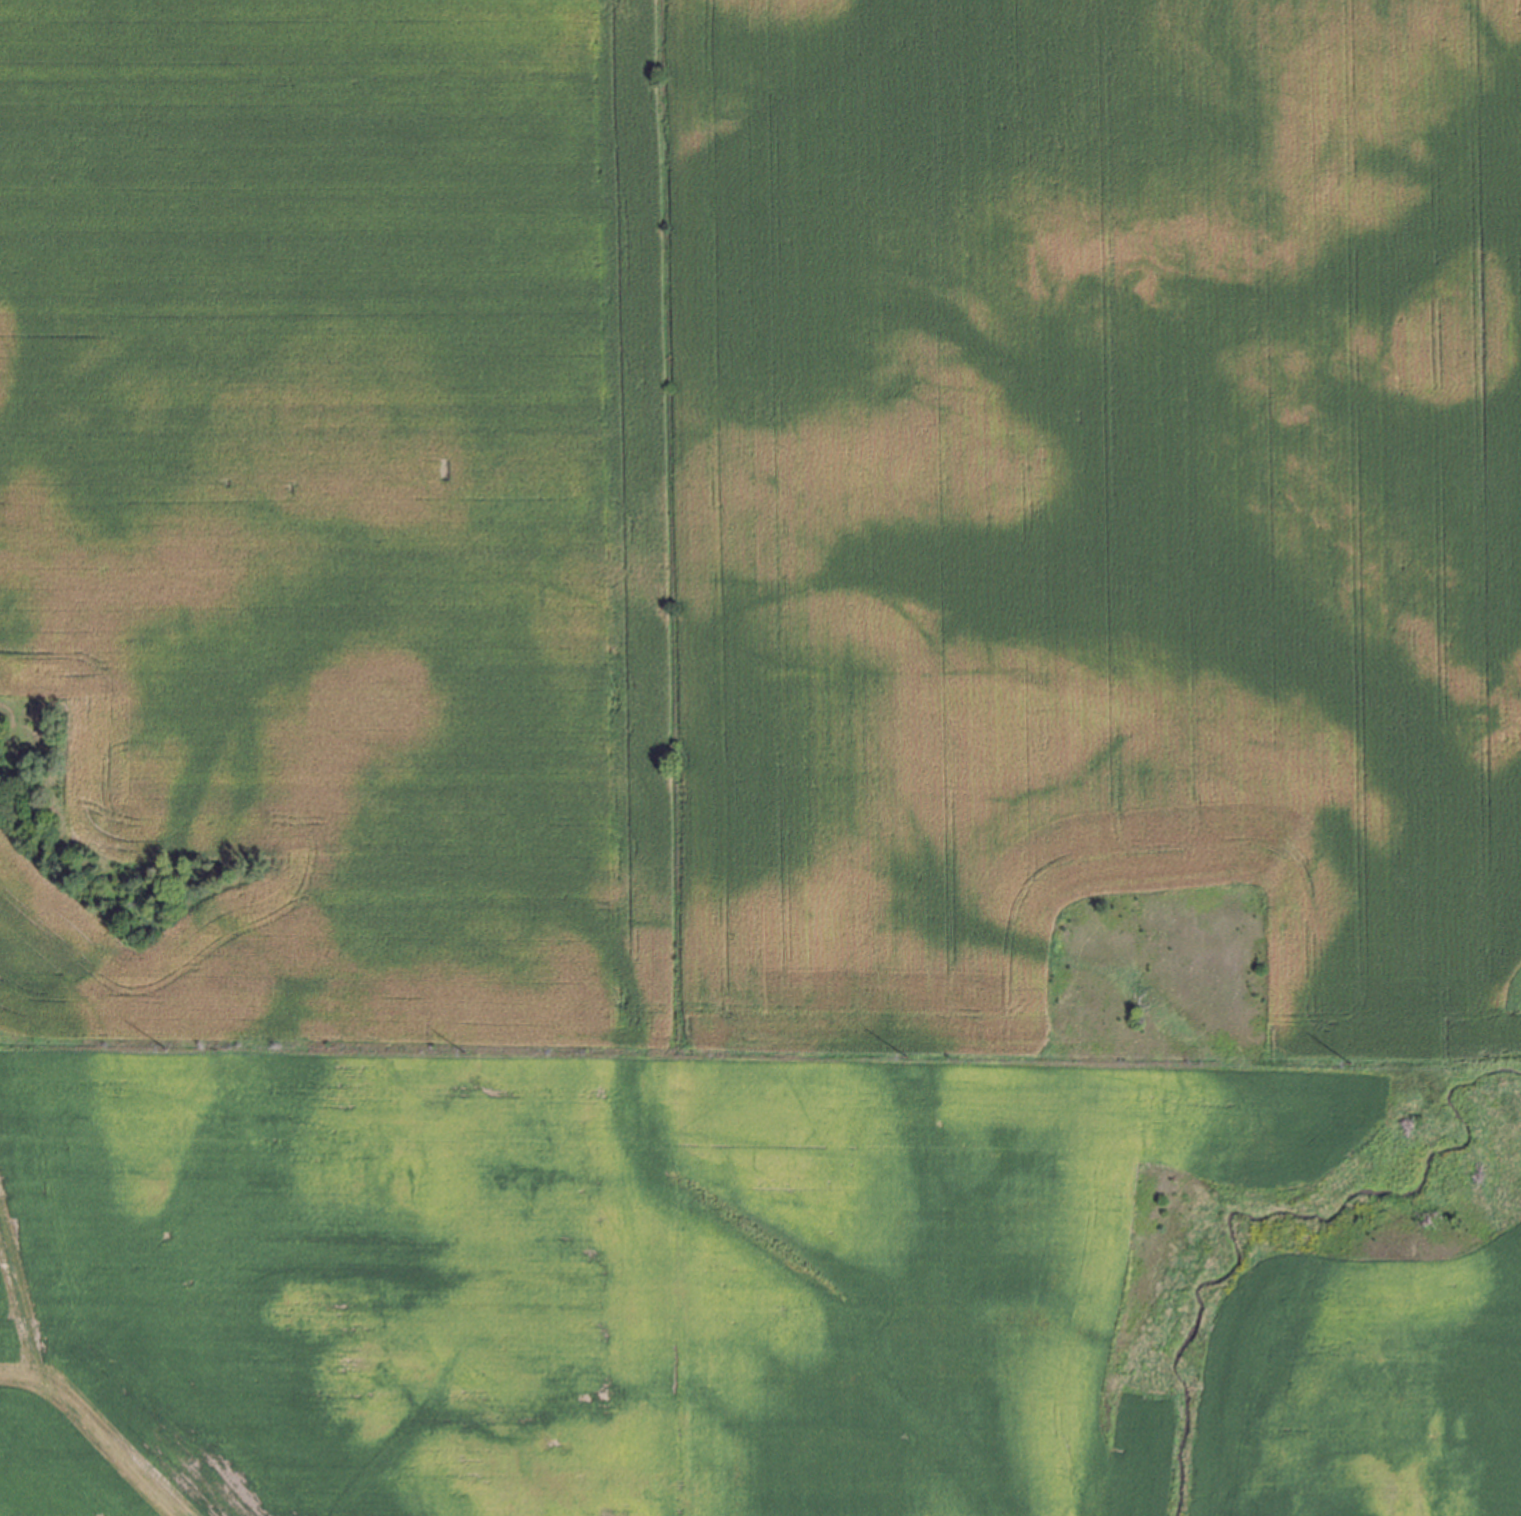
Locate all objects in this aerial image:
power tower: (166, 1046)
power tower: (468, 1051)
power tower: (908, 1054)
power tower: (1351, 1062)

